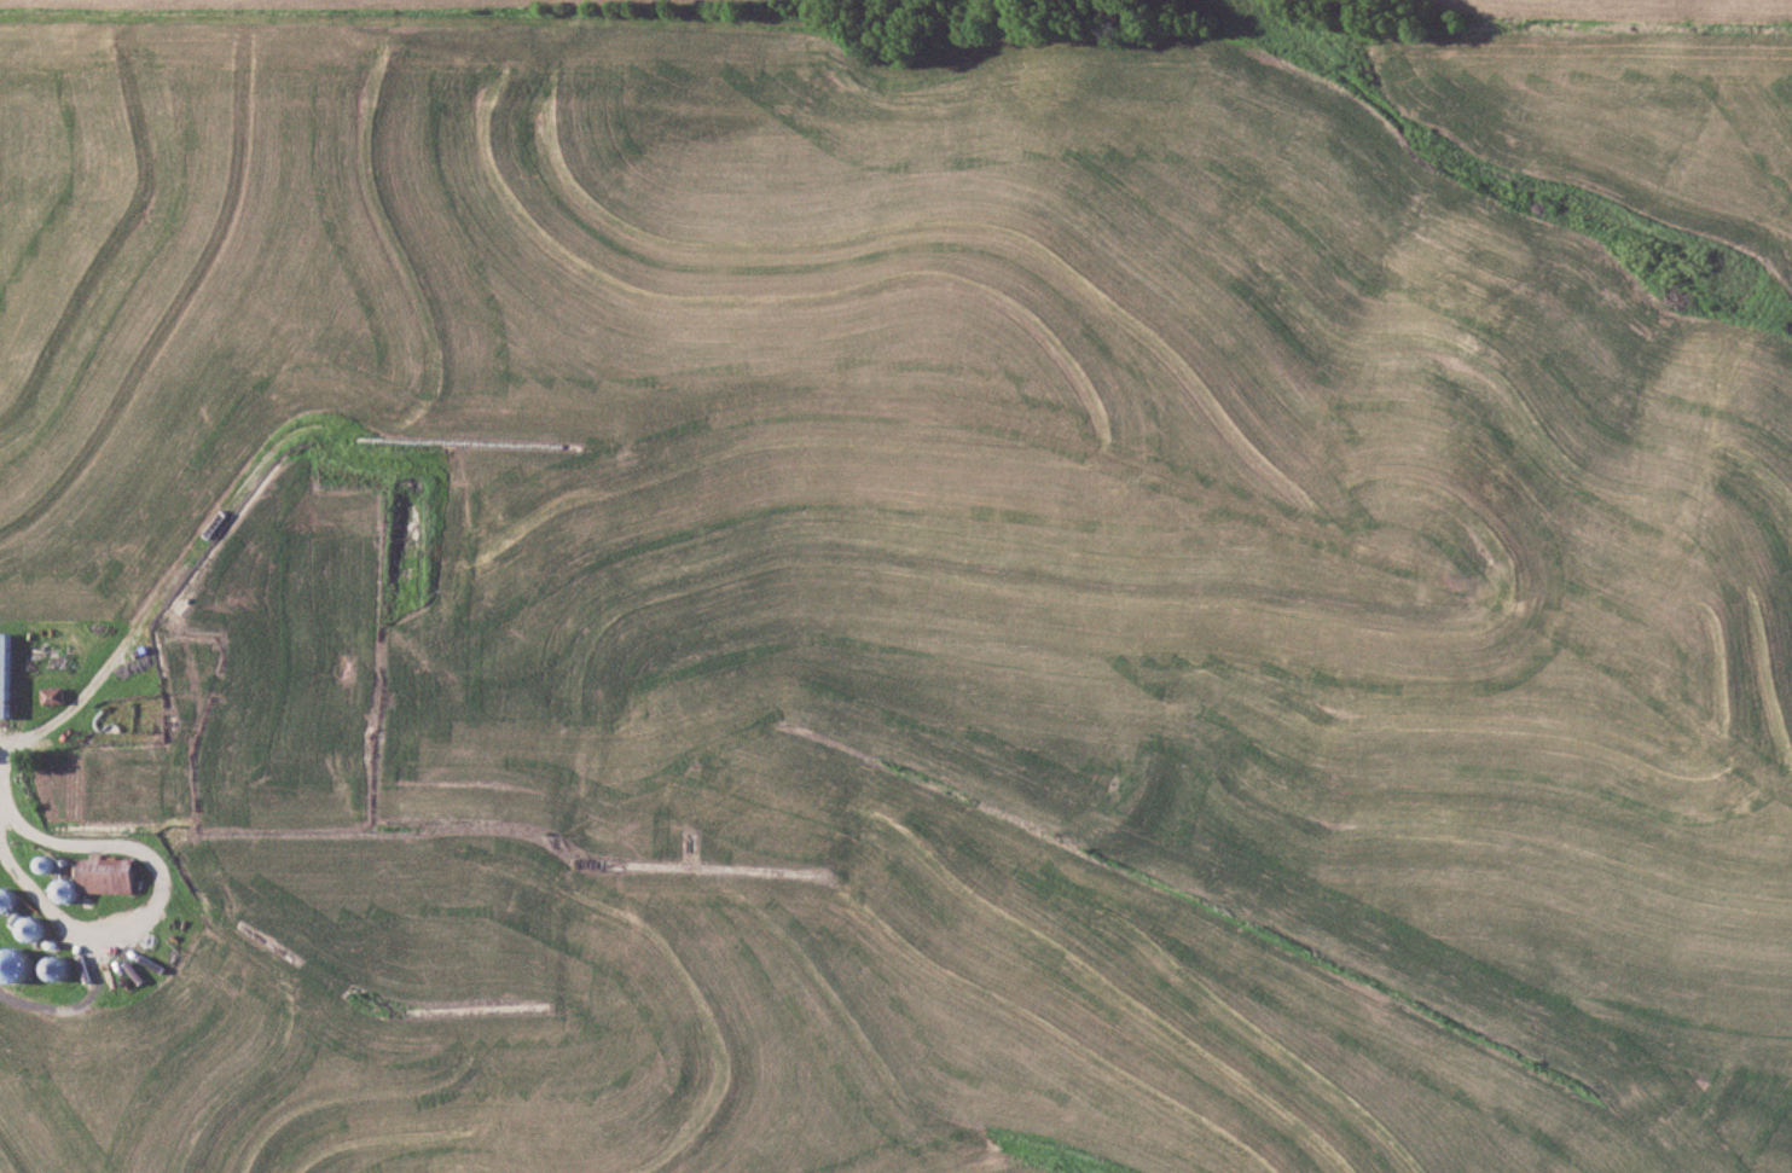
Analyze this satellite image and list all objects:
building: (4, 673)
building: (45, 863)
building: (64, 887)
building: (6, 898)
building: (30, 925)
building: (56, 965)

